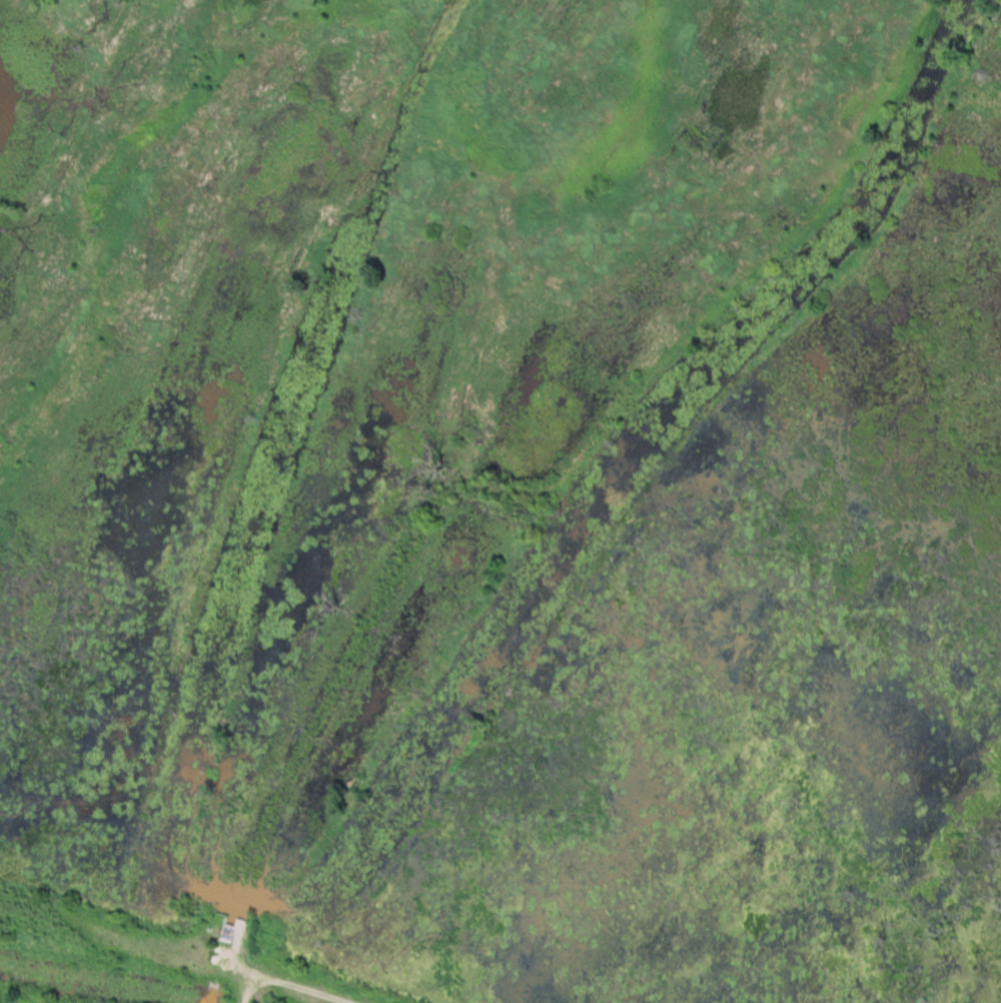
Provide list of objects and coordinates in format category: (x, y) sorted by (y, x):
road: (310, 997)

